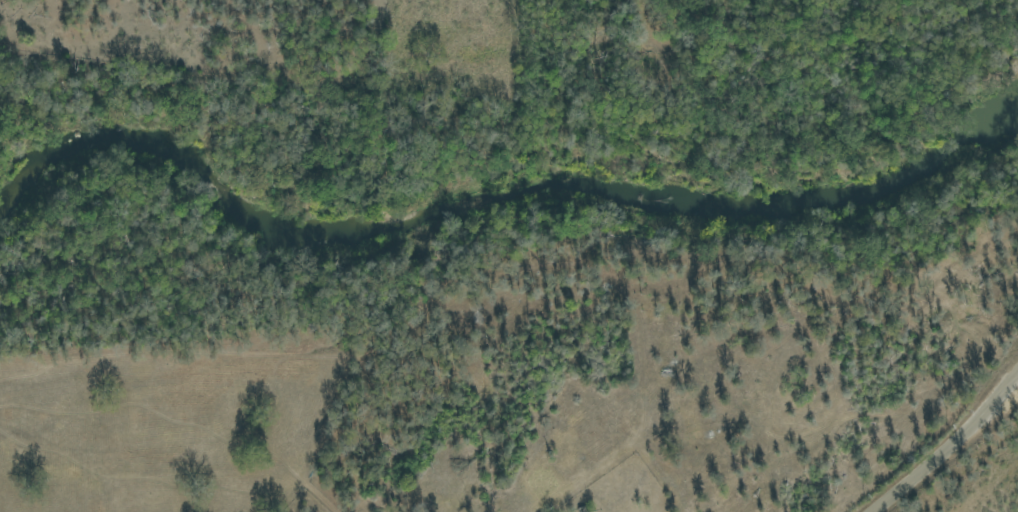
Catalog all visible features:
road: (944, 444)
road: (738, 471)
road: (706, 499)

